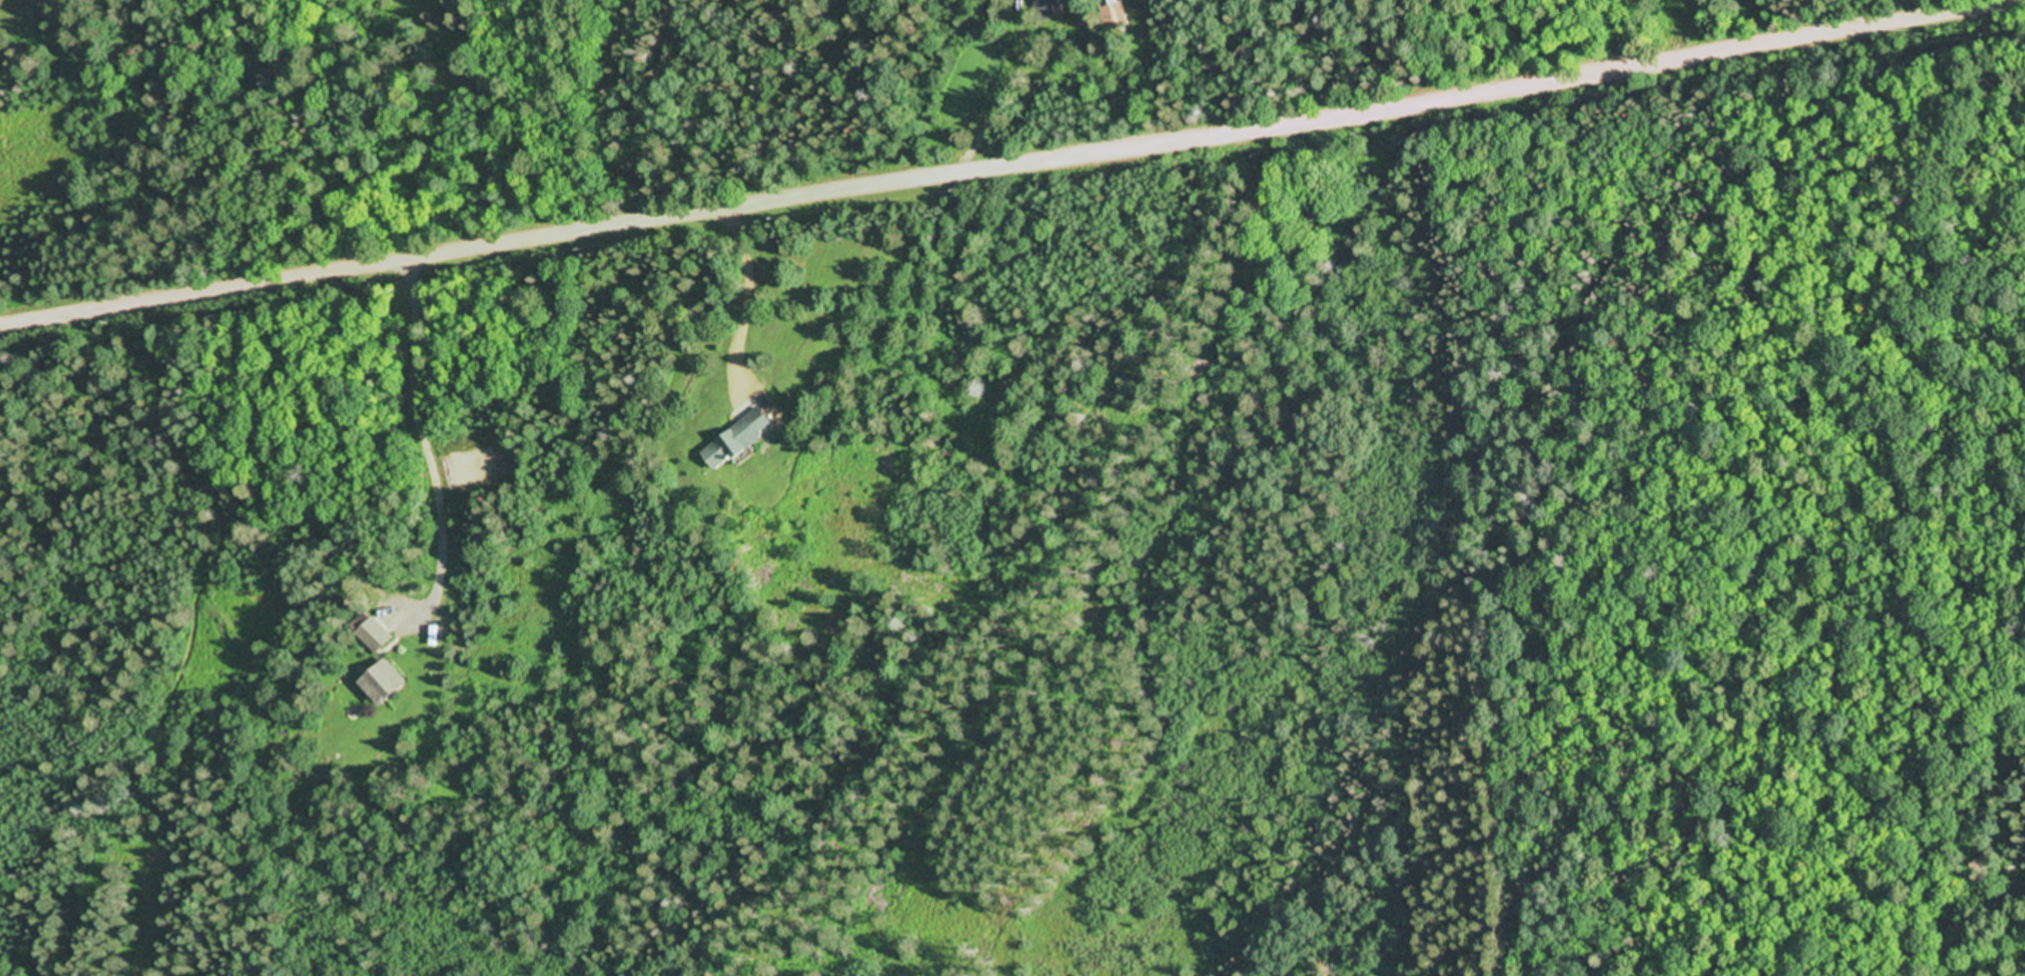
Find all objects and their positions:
road: (989, 162)
building: (744, 437)
building: (377, 634)
building: (387, 681)

